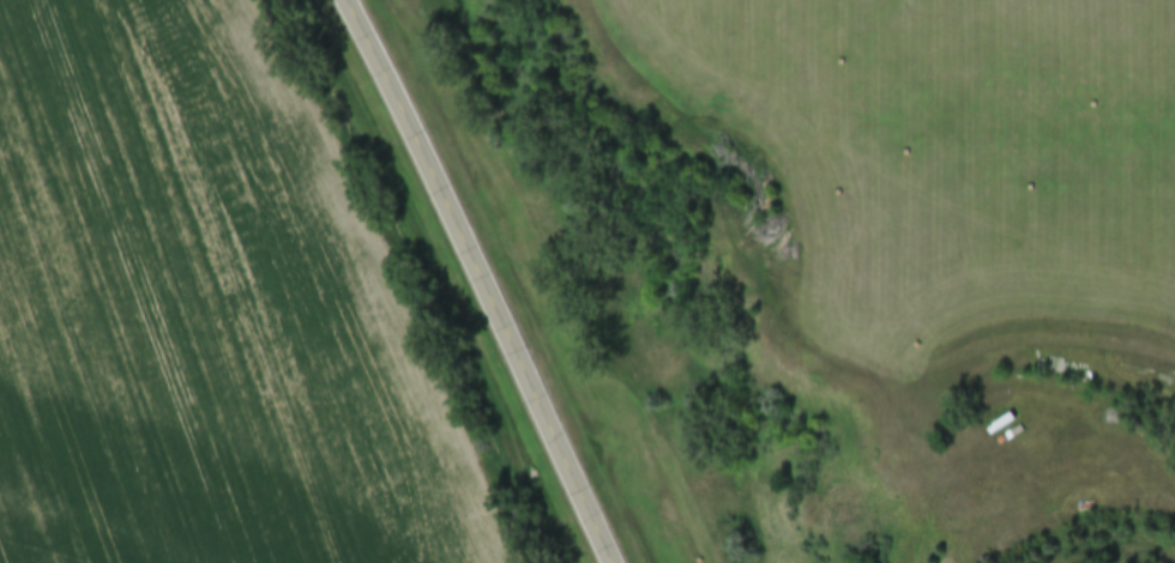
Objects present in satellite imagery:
road: (482, 278)

